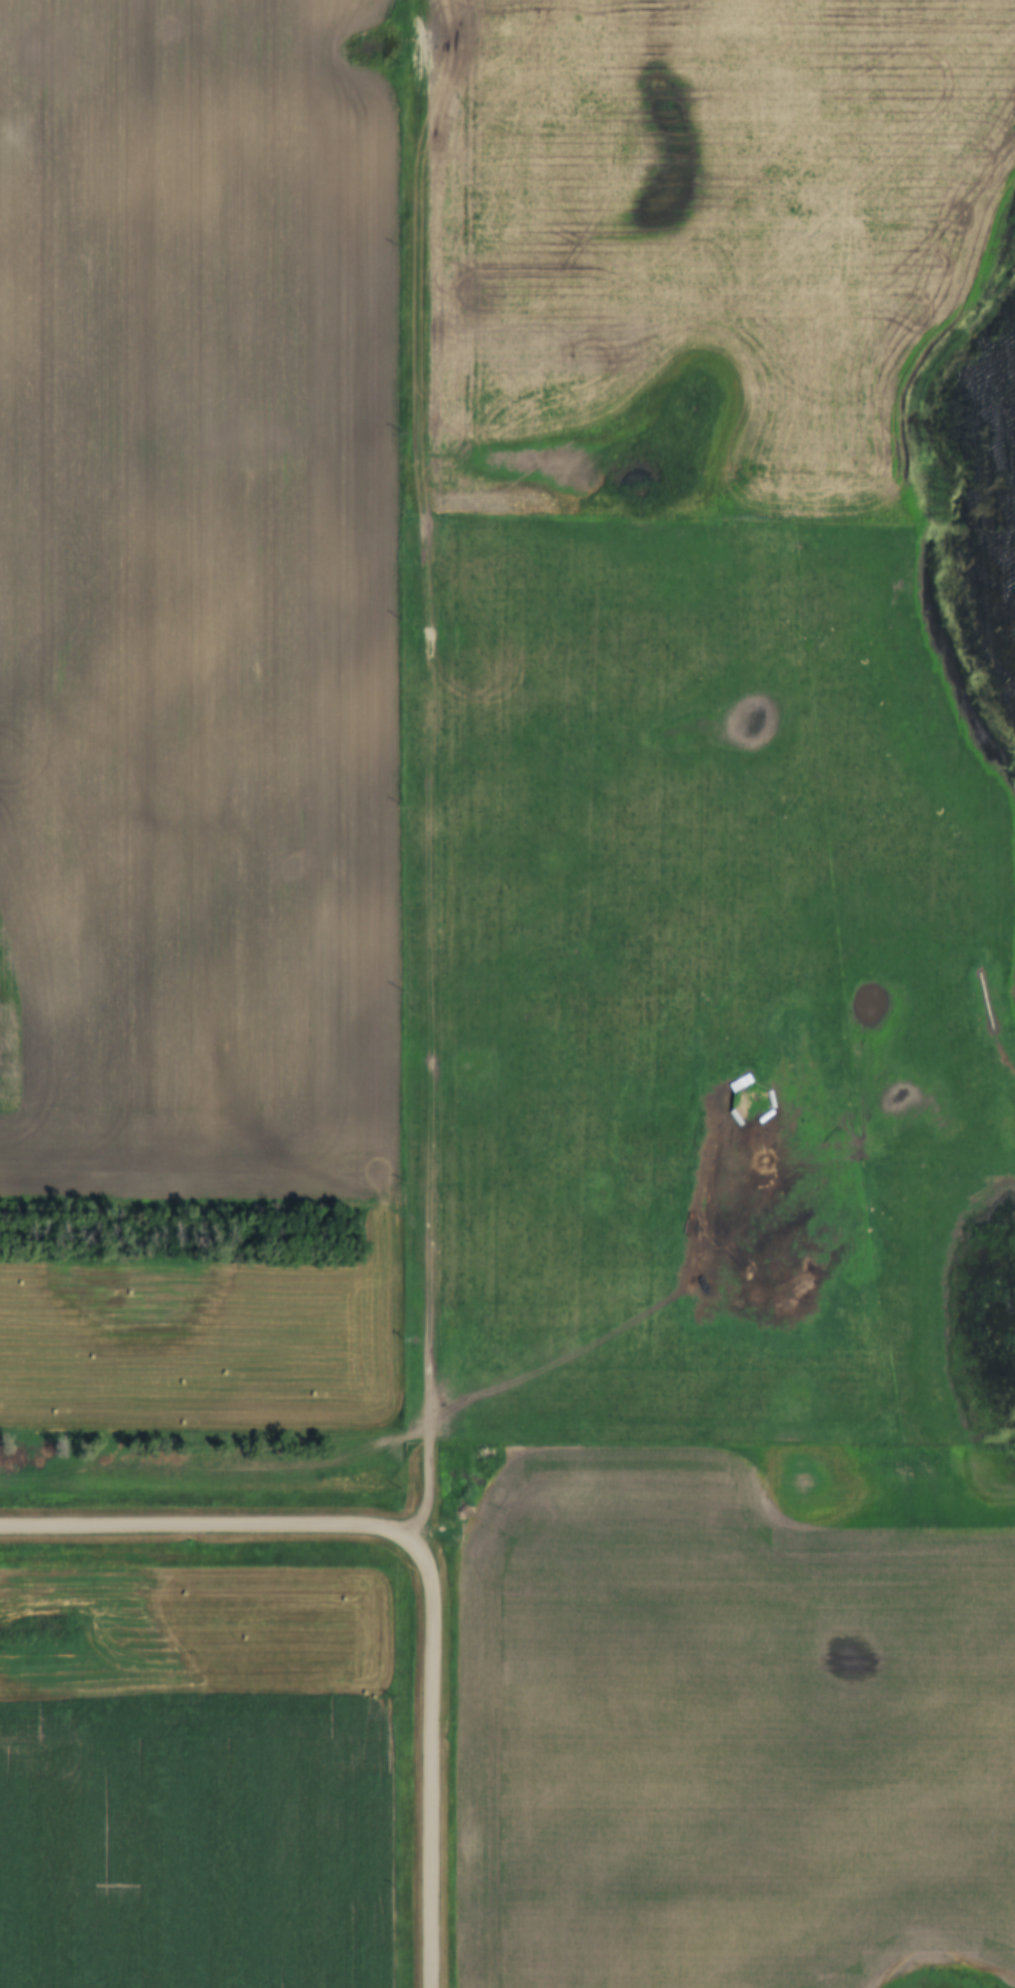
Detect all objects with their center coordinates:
road: (416, 1045)
building: (738, 1083)
road: (226, 1525)
road: (429, 1781)

